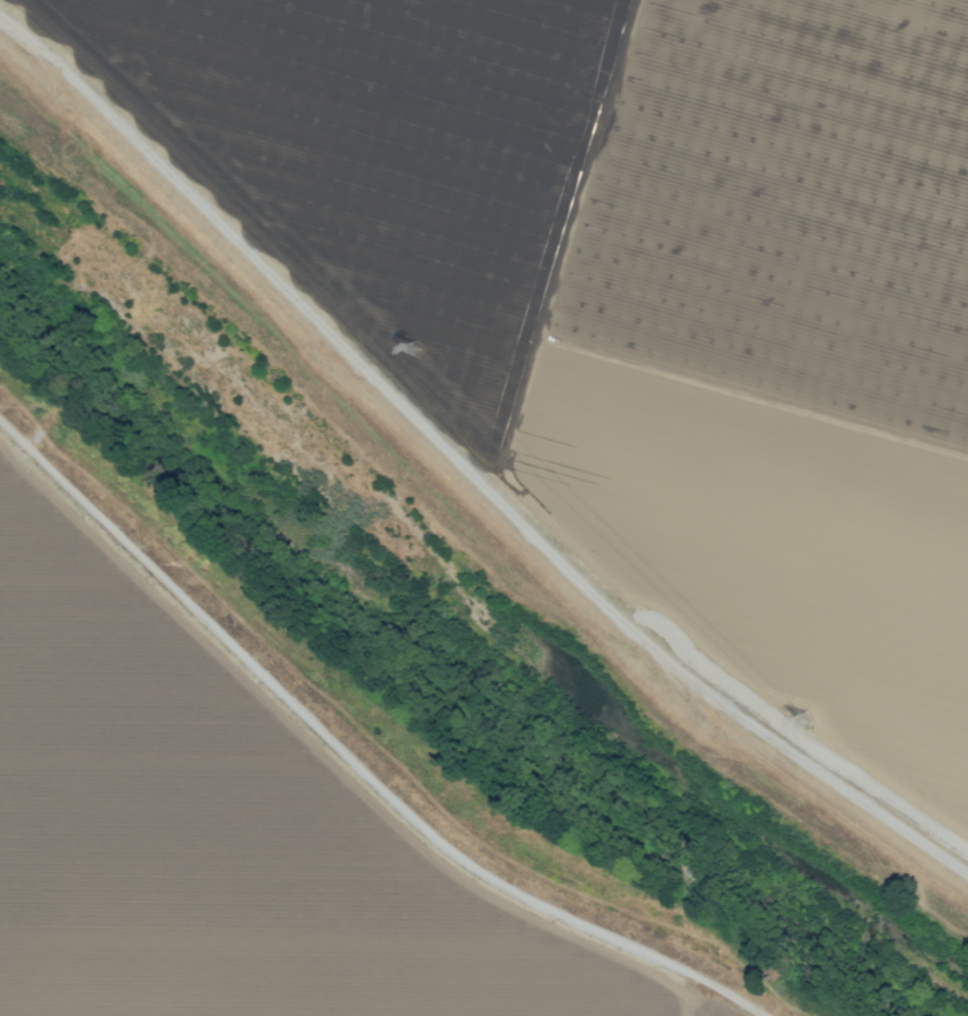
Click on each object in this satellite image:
crop: (677, 267)
power tower: (417, 347)
river: (432, 650)
power tower: (805, 719)
crop: (245, 823)

